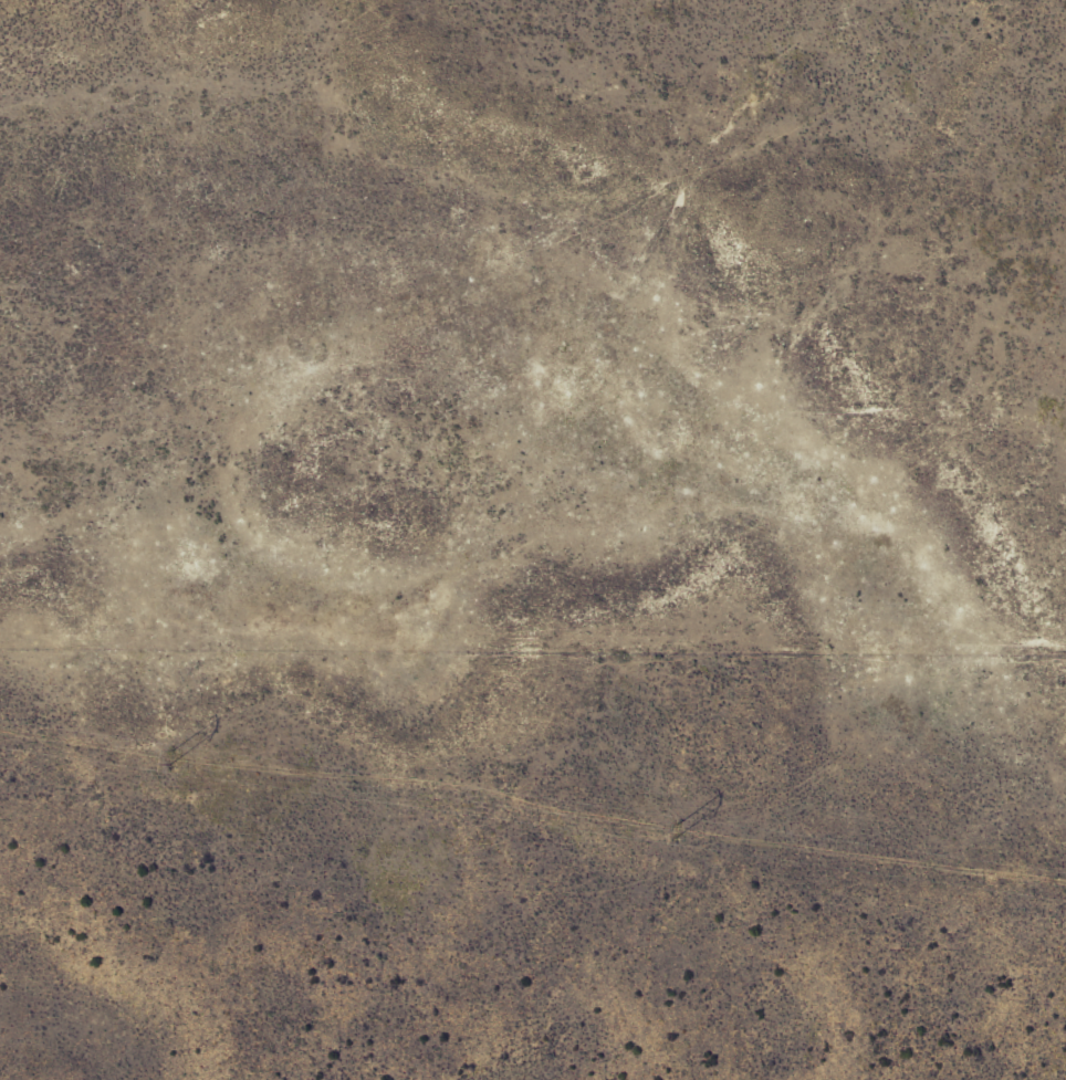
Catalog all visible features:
power tower: (166, 755)
power tower: (673, 828)

